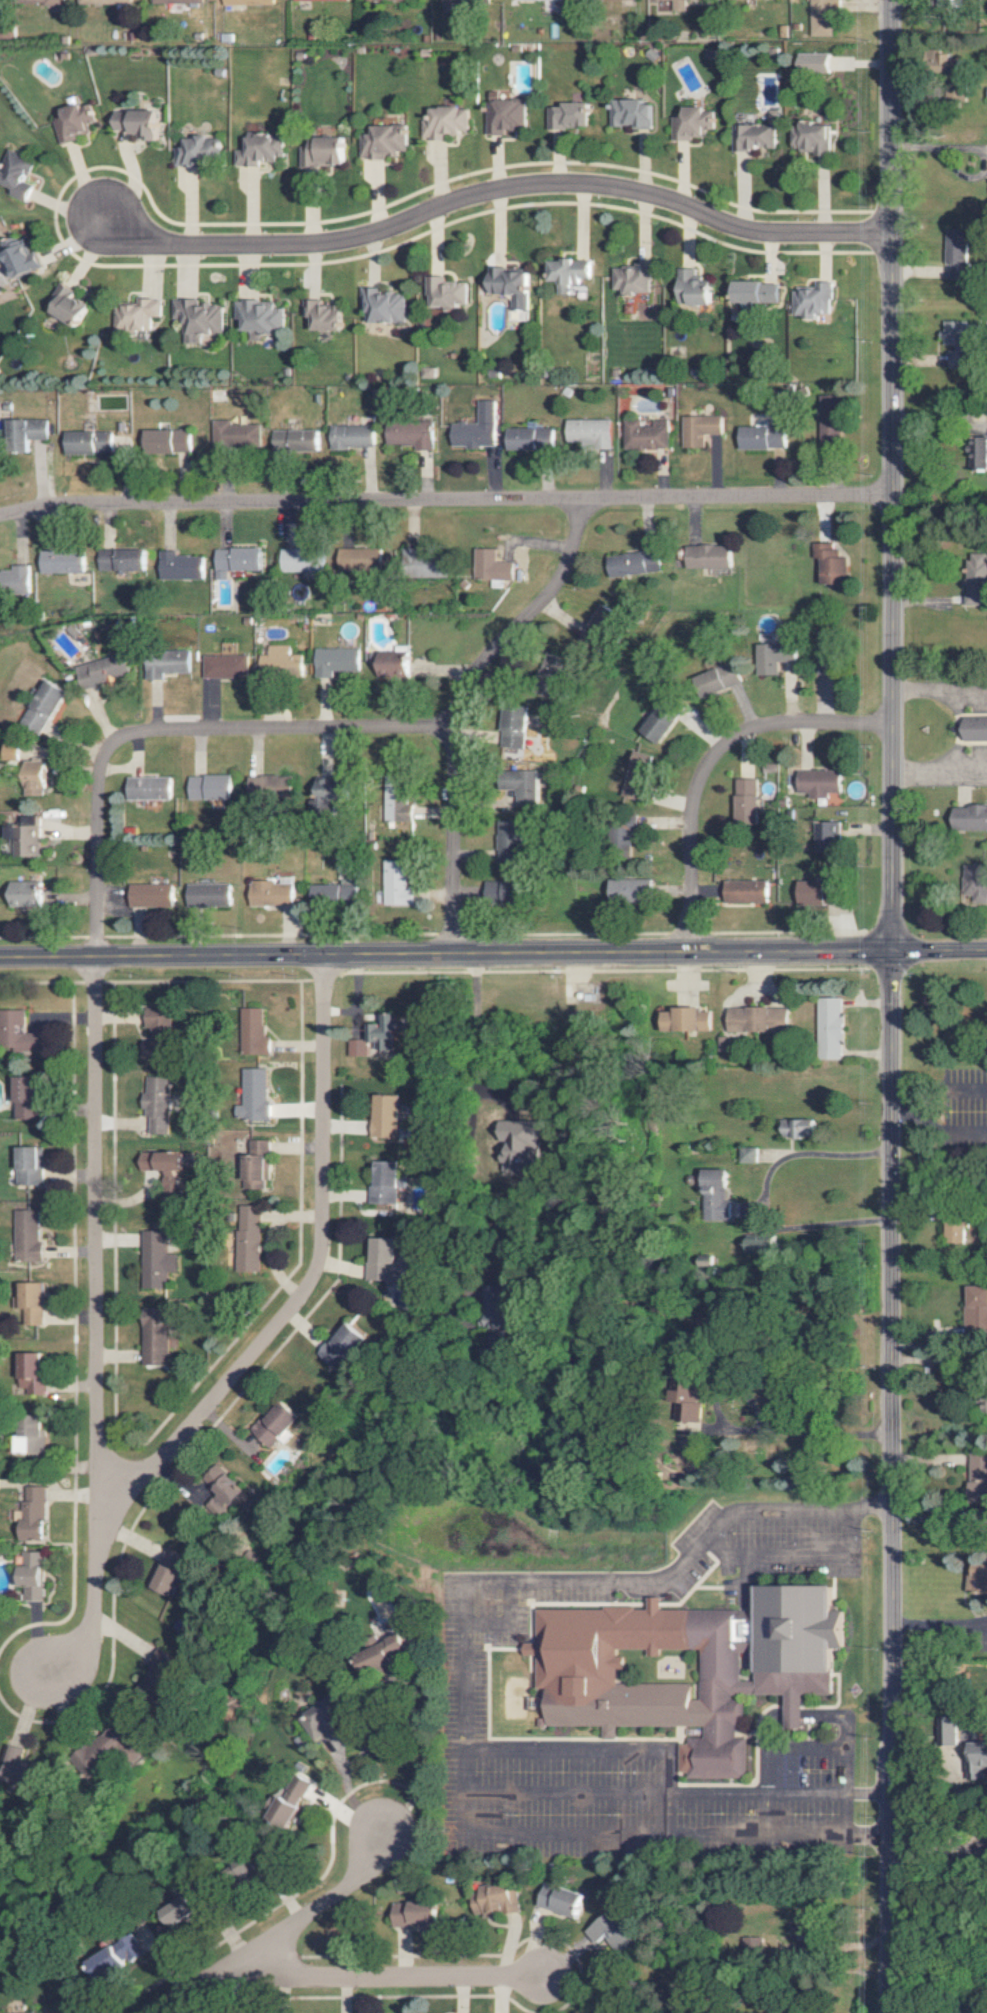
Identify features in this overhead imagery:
building: (314, 0)
building: (368, 0)
building: (553, 0)
building: (708, 0)
building: (46, 1)
building: (105, 1)
building: (178, 1)
building: (464, 1)
building: (251, 2)
building: (680, 5)
building: (824, 16)
building: (816, 62)
building: (631, 112)
building: (507, 115)
building: (571, 116)
building: (78, 121)
building: (447, 122)
building: (142, 123)
building: (694, 124)
building: (755, 136)
building: (814, 136)
building: (384, 142)
building: (263, 148)
building: (326, 151)
building: (201, 152)
road: (964, 172)
building: (20, 176)
road: (494, 190)
building: (957, 254)
building: (24, 256)
building: (568, 273)
building: (632, 278)
building: (512, 285)
building: (696, 289)
building: (447, 292)
building: (755, 293)
building: (811, 300)
building: (72, 304)
building: (382, 306)
building: (262, 315)
building: (139, 316)
building: (202, 316)
building: (428, 372)
building: (477, 428)
building: (700, 429)
building: (30, 433)
building: (590, 433)
building: (411, 434)
building: (645, 434)
building: (235, 435)
building: (352, 436)
building: (761, 437)
building: (529, 438)
building: (296, 440)
building: (168, 441)
building: (90, 442)
building: (986, 453)
road: (445, 500)
building: (707, 556)
building: (120, 560)
building: (235, 560)
building: (301, 560)
building: (363, 560)
building: (61, 561)
building: (632, 562)
building: (828, 563)
building: (491, 565)
building: (178, 566)
building: (977, 579)
building: (15, 580)
building: (599, 627)
building: (774, 651)
building: (335, 661)
building: (280, 662)
building: (394, 663)
building: (824, 663)
building: (165, 664)
building: (224, 666)
building: (103, 670)
building: (723, 676)
road: (931, 693)
building: (44, 706)
road: (457, 706)
building: (662, 720)
building: (514, 727)
building: (977, 728)
road: (170, 732)
road: (708, 762)
road: (938, 774)
building: (637, 776)
building: (38, 778)
building: (819, 783)
building: (272, 786)
building: (211, 787)
building: (527, 787)
building: (150, 788)
building: (333, 789)
building: (747, 801)
building: (399, 809)
building: (971, 817)
building: (29, 836)
building: (830, 837)
building: (505, 863)
building: (975, 883)
building: (397, 884)
building: (630, 890)
building: (746, 891)
building: (273, 893)
building: (28, 894)
building: (817, 894)
building: (153, 895)
building: (210, 895)
building: (336, 895)
road: (493, 952)
road: (892, 1006)
building: (757, 1018)
building: (686, 1019)
building: (160, 1021)
building: (830, 1028)
building: (255, 1031)
building: (23, 1033)
road: (967, 1089)
building: (254, 1095)
building: (27, 1097)
building: (159, 1103)
road: (924, 1106)
building: (388, 1115)
road: (965, 1125)
building: (800, 1127)
road: (466, 1131)
building: (519, 1142)
building: (747, 1154)
building: (259, 1163)
building: (29, 1164)
building: (165, 1165)
building: (387, 1183)
road: (766, 1190)
building: (716, 1195)
building: (956, 1229)
building: (27, 1235)
building: (250, 1238)
building: (387, 1259)
building: (155, 1260)
road: (311, 1282)
building: (32, 1301)
building: (975, 1311)
road: (95, 1329)
building: (154, 1336)
building: (346, 1347)
building: (31, 1372)
building: (986, 1399)
building: (694, 1411)
building: (279, 1423)
road: (801, 1425)
building: (29, 1436)
building: (228, 1489)
building: (31, 1513)
road: (772, 1554)
building: (32, 1575)
building: (977, 1578)
building: (171, 1579)
road: (508, 1626)
building: (390, 1653)
building: (687, 1666)
building: (166, 1669)
road: (462, 1692)
road: (796, 1715)
building: (329, 1723)
road: (844, 1734)
road: (765, 1746)
building: (97, 1753)
road: (423, 1755)
building: (976, 1760)
road: (667, 1779)
road: (565, 1791)
road: (351, 1794)
building: (296, 1802)
road: (938, 1842)
building: (499, 1899)
building: (564, 1899)
building: (420, 1915)
building: (615, 1931)
road: (281, 1932)
building: (753, 1947)
building: (124, 1954)
road: (381, 1975)
building: (54, 2010)

